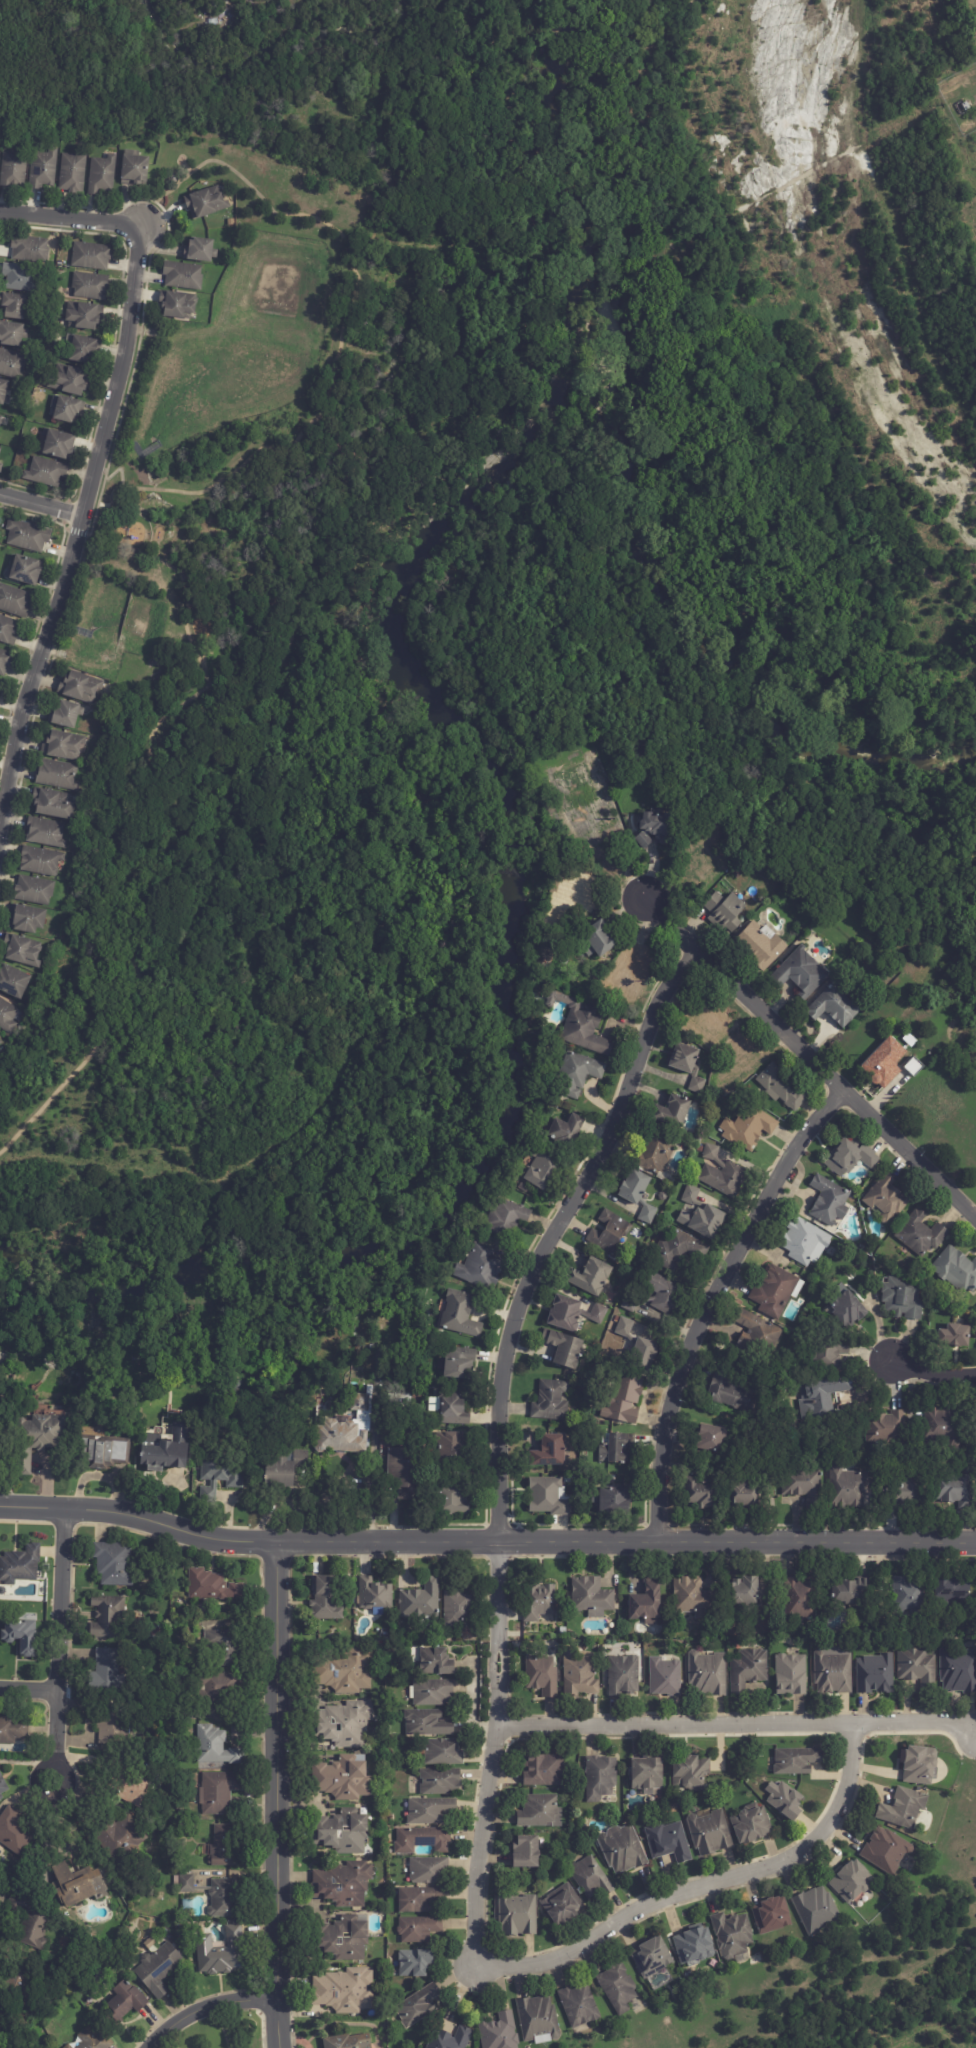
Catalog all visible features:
building: (13, 169)
building: (43, 170)
building: (135, 171)
building: (73, 173)
building: (102, 176)
building: (206, 204)
park: (379, 215)
road: (70, 218)
building: (29, 249)
building: (200, 252)
building: (91, 257)
building: (183, 277)
building: (22, 279)
building: (90, 287)
building: (178, 306)
building: (14, 308)
building: (84, 317)
building: (12, 335)
building: (84, 352)
building: (12, 365)
building: (71, 384)
building: (4, 394)
building: (68, 412)
building: (0, 417)
building: (1, 423)
building: (58, 447)
building: (0, 448)
building: (0, 451)
building: (1, 469)
building: (46, 474)
road: (41, 504)
road: (79, 524)
building: (28, 535)
road: (128, 553)
building: (25, 570)
building: (14, 601)
building: (8, 630)
building: (5, 662)
building: (80, 687)
building: (66, 715)
building: (63, 745)
building: (58, 775)
building: (602, 801)
building: (703, 803)
building: (54, 804)
park: (265, 810)
building: (655, 829)
building: (46, 833)
building: (700, 860)
building: (40, 862)
building: (35, 891)
building: (580, 892)
building: (727, 908)
building: (27, 919)
building: (598, 941)
building: (762, 944)
building: (22, 951)
building: (631, 971)
building: (801, 972)
building: (13, 982)
building: (835, 1006)
building: (7, 1016)
building: (707, 1020)
building: (582, 1026)
building: (911, 1040)
building: (0, 1043)
road: (805, 1057)
building: (738, 1060)
building: (884, 1062)
building: (688, 1065)
building: (914, 1067)
building: (579, 1074)
building: (782, 1086)
building: (729, 1107)
building: (672, 1112)
building: (749, 1126)
building: (569, 1128)
building: (701, 1149)
building: (656, 1154)
building: (852, 1156)
building: (543, 1170)
building: (722, 1174)
building: (638, 1194)
building: (691, 1194)
building: (663, 1196)
building: (889, 1198)
building: (829, 1201)
building: (509, 1217)
building: (703, 1220)
building: (611, 1233)
building: (922, 1233)
building: (805, 1242)
building: (677, 1250)
building: (481, 1267)
building: (957, 1270)
building: (591, 1276)
building: (777, 1291)
building: (657, 1294)
building: (609, 1297)
building: (903, 1299)
road: (715, 1304)
building: (847, 1306)
building: (975, 1309)
building: (567, 1312)
building: (461, 1314)
building: (600, 1314)
building: (626, 1327)
building: (793, 1330)
building: (955, 1335)
building: (755, 1338)
building: (564, 1348)
building: (827, 1352)
building: (645, 1354)
building: (462, 1363)
road: (933, 1374)
building: (859, 1377)
building: (729, 1391)
building: (790, 1392)
building: (823, 1398)
building: (626, 1399)
building: (551, 1401)
building: (402, 1405)
building: (454, 1409)
building: (942, 1427)
building: (348, 1428)
building: (887, 1428)
road: (506, 1435)
building: (37, 1438)
building: (714, 1438)
building: (167, 1448)
building: (453, 1448)
building: (616, 1448)
building: (104, 1451)
building: (551, 1451)
building: (943, 1453)
building: (852, 1462)
building: (286, 1469)
building: (405, 1472)
building: (221, 1473)
building: (802, 1485)
building: (848, 1486)
building: (955, 1488)
building: (904, 1491)
building: (701, 1492)
building: (745, 1493)
building: (547, 1496)
building: (451, 1499)
building: (613, 1499)
road: (486, 1542)
building: (114, 1563)
building: (20, 1565)
building: (210, 1586)
building: (848, 1591)
building: (882, 1591)
building: (955, 1591)
building: (374, 1594)
building: (744, 1594)
building: (907, 1594)
building: (591, 1596)
building: (798, 1597)
building: (326, 1598)
building: (693, 1598)
building: (421, 1601)
building: (538, 1601)
building: (648, 1602)
building: (459, 1608)
building: (108, 1616)
building: (156, 1632)
building: (22, 1636)
road: (64, 1645)
building: (225, 1649)
building: (437, 1662)
building: (918, 1668)
building: (749, 1669)
building: (959, 1670)
building: (341, 1672)
building: (108, 1673)
building: (834, 1673)
building: (709, 1674)
building: (876, 1674)
building: (542, 1675)
building: (623, 1675)
building: (791, 1675)
building: (580, 1676)
building: (666, 1677)
building: (215, 1687)
building: (432, 1693)
road: (31, 1694)
building: (427, 1723)
building: (114, 1724)
building: (342, 1724)
road: (736, 1725)
building: (12, 1730)
building: (215, 1747)
building: (442, 1752)
building: (798, 1761)
building: (920, 1766)
building: (544, 1771)
building: (691, 1773)
building: (648, 1774)
building: (601, 1778)
building: (342, 1779)
building: (441, 1781)
building: (3, 1786)
building: (132, 1789)
building: (219, 1792)
building: (583, 1792)
road: (280, 1798)
building: (786, 1800)
building: (905, 1809)
building: (431, 1811)
building: (541, 1812)
building: (752, 1826)
building: (15, 1832)
building: (341, 1832)
building: (711, 1834)
building: (119, 1838)
building: (422, 1840)
building: (669, 1842)
building: (227, 1846)
building: (623, 1849)
building: (888, 1851)
building: (528, 1852)
building: (429, 1871)
building: (591, 1879)
building: (854, 1882)
building: (344, 1884)
building: (77, 1885)
road: (707, 1889)
building: (217, 1895)
building: (420, 1899)
building: (563, 1906)
building: (818, 1911)
building: (519, 1915)
building: (773, 1916)
building: (26, 1924)
building: (199, 1929)
building: (419, 1929)
building: (734, 1935)
building: (341, 1939)
building: (696, 1947)
building: (222, 1953)
building: (653, 1958)
building: (416, 1964)
building: (159, 1970)
building: (21, 1977)
building: (619, 1988)
building: (345, 1991)
building: (125, 2003)
building: (419, 2007)
building: (579, 2007)
road: (213, 2016)
building: (539, 2021)
building: (641, 2024)
building: (500, 2032)
building: (452, 2039)
building: (95, 2040)
building: (350, 2042)
building: (68, 2047)

